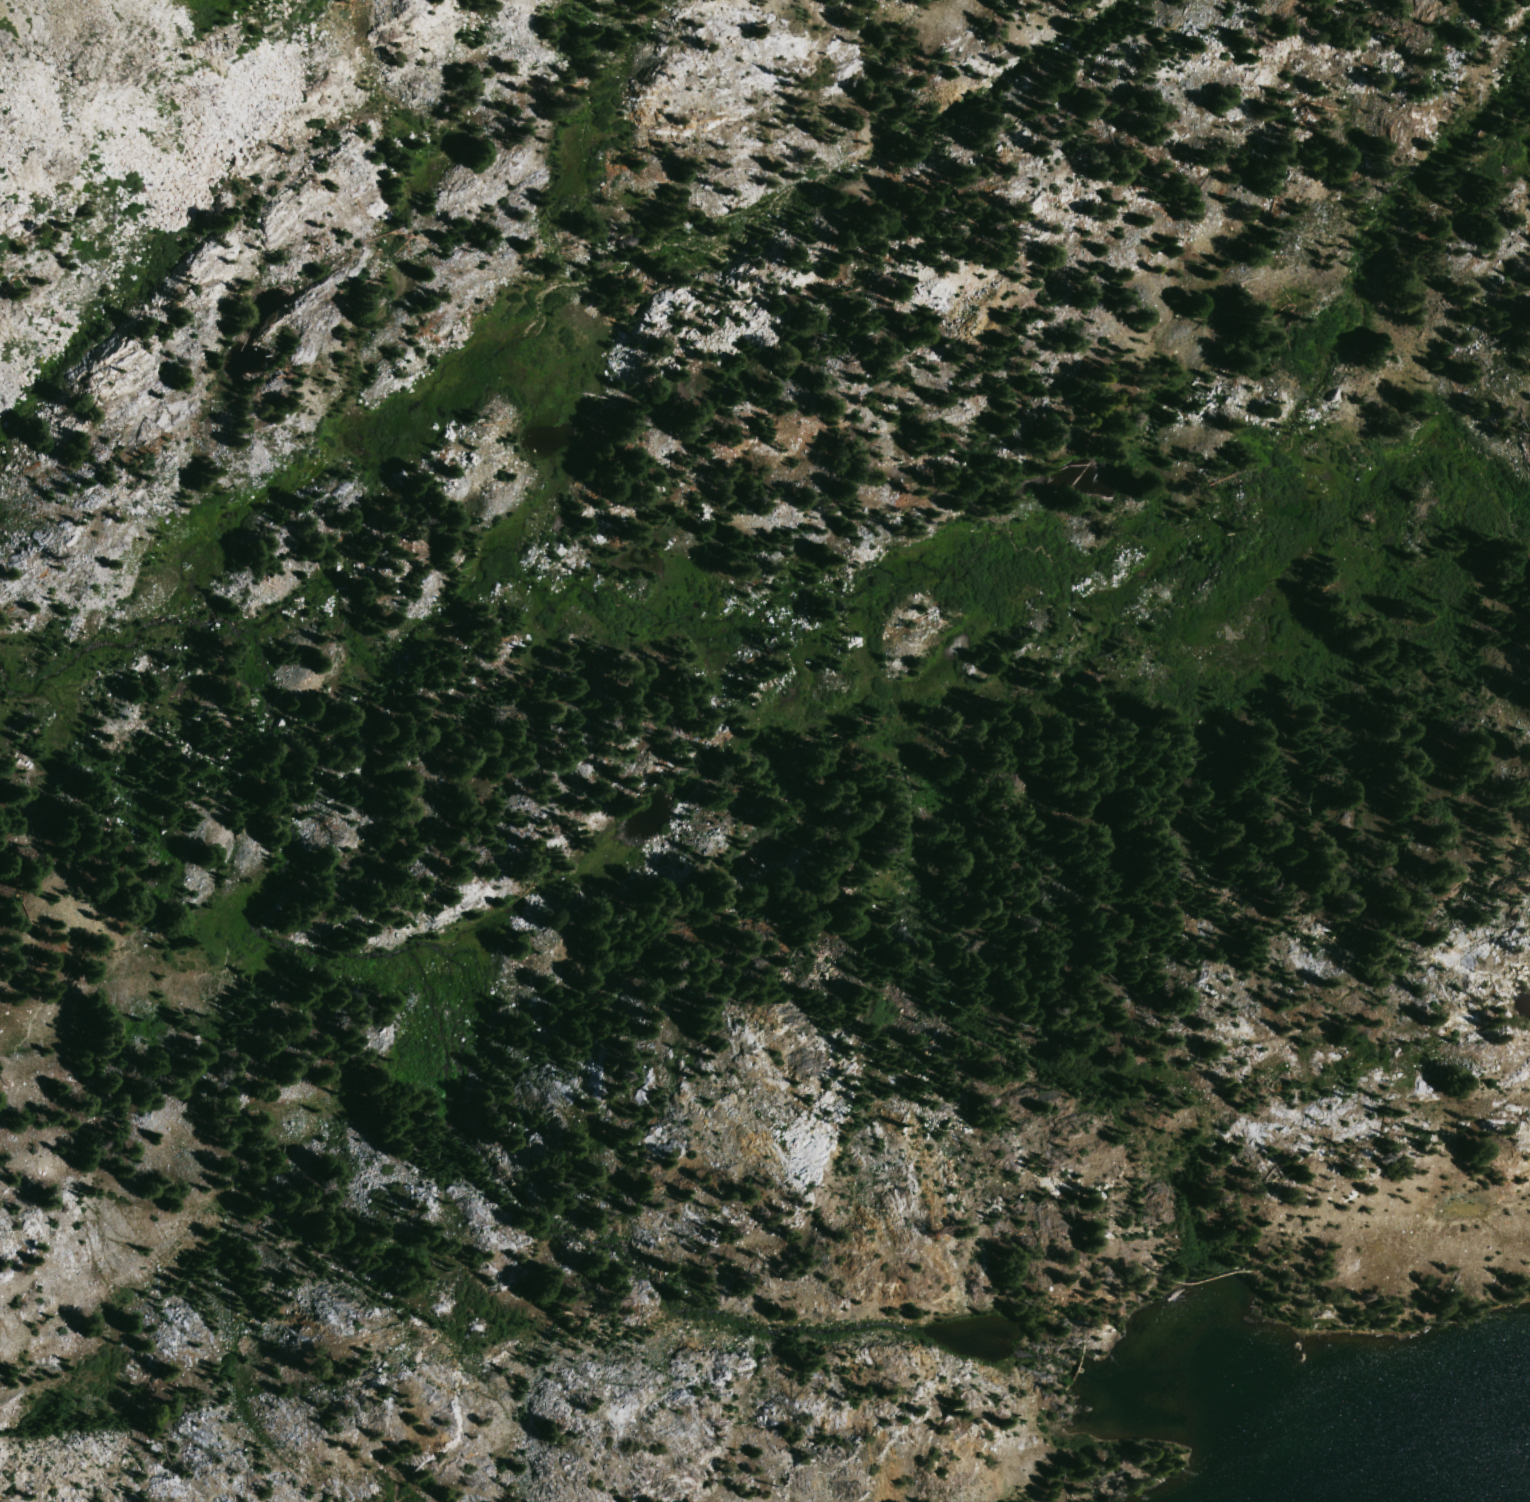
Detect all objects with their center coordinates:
road: (1365, 1085)
road: (1184, 1283)
dam: (1072, 1369)

